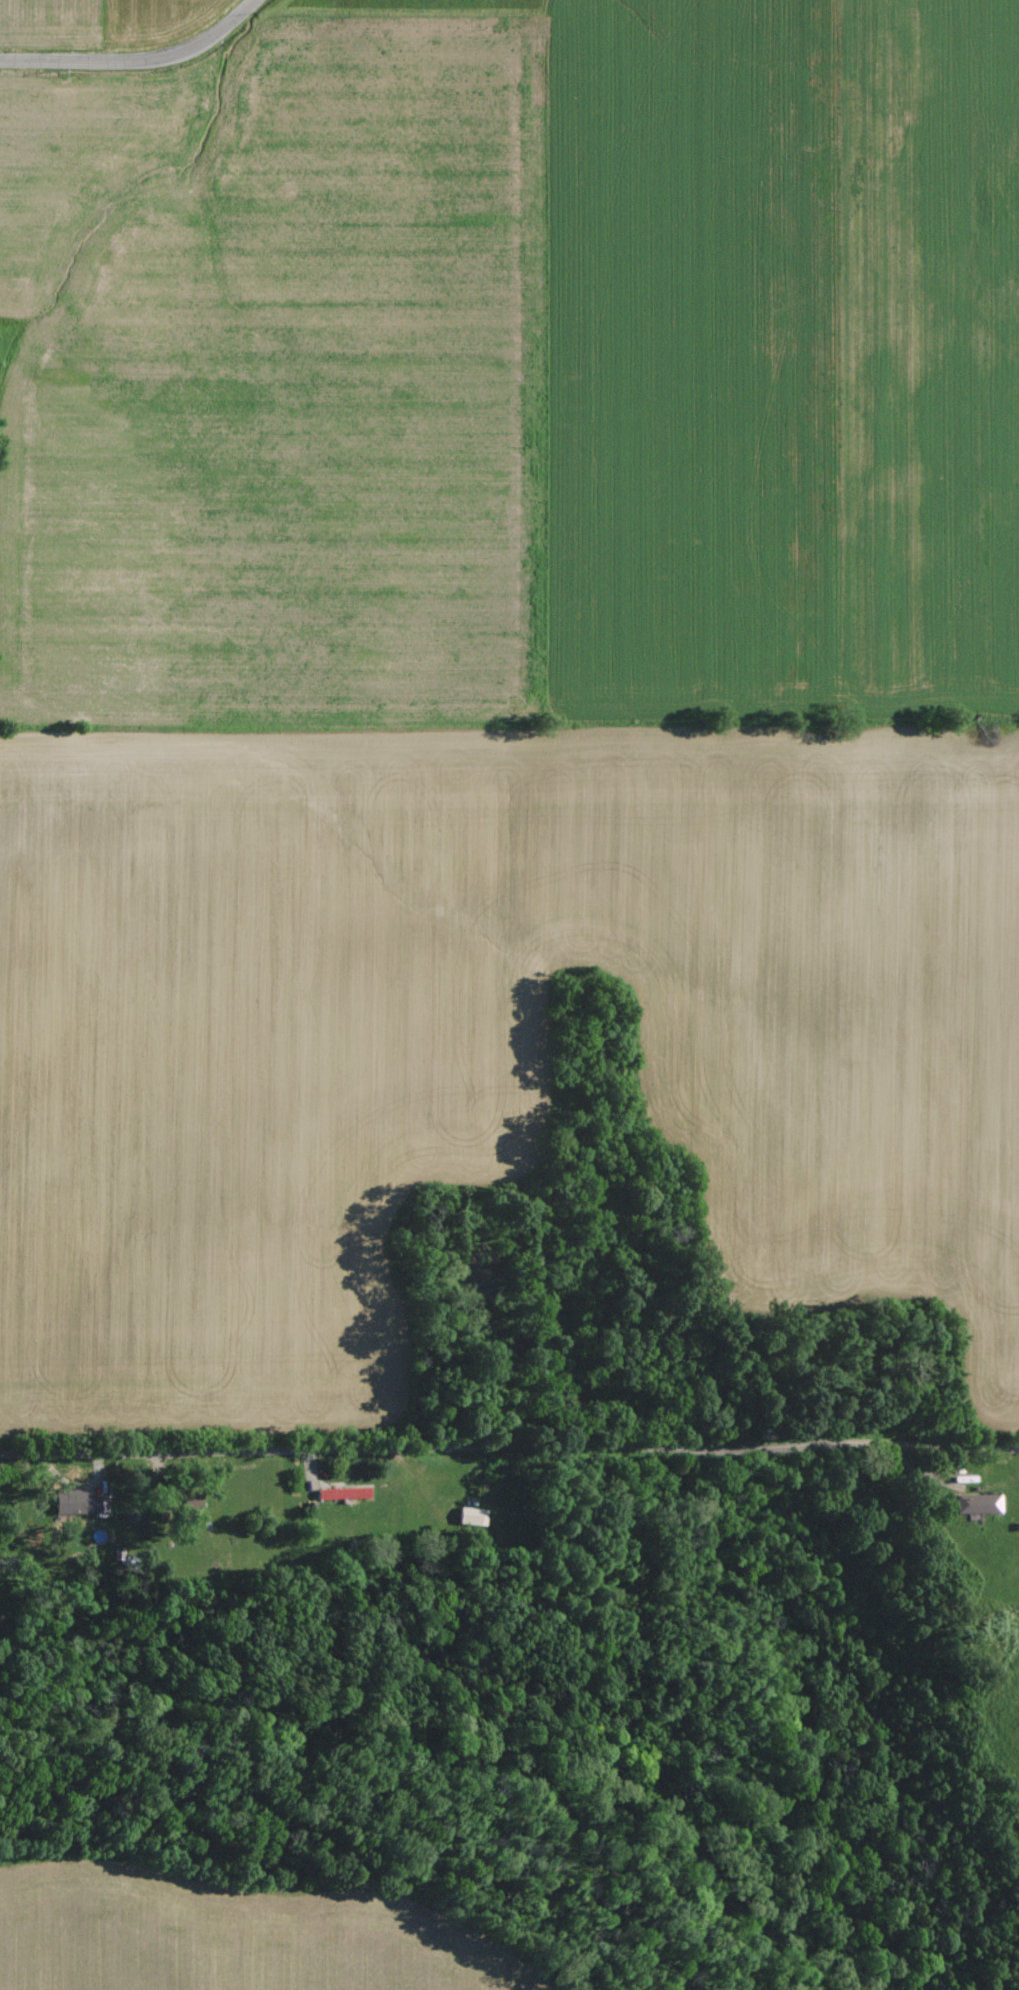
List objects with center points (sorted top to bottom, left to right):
road: (138, 63)
road: (509, 1448)
building: (342, 1493)
building: (72, 1503)
building: (977, 1504)
building: (471, 1516)

